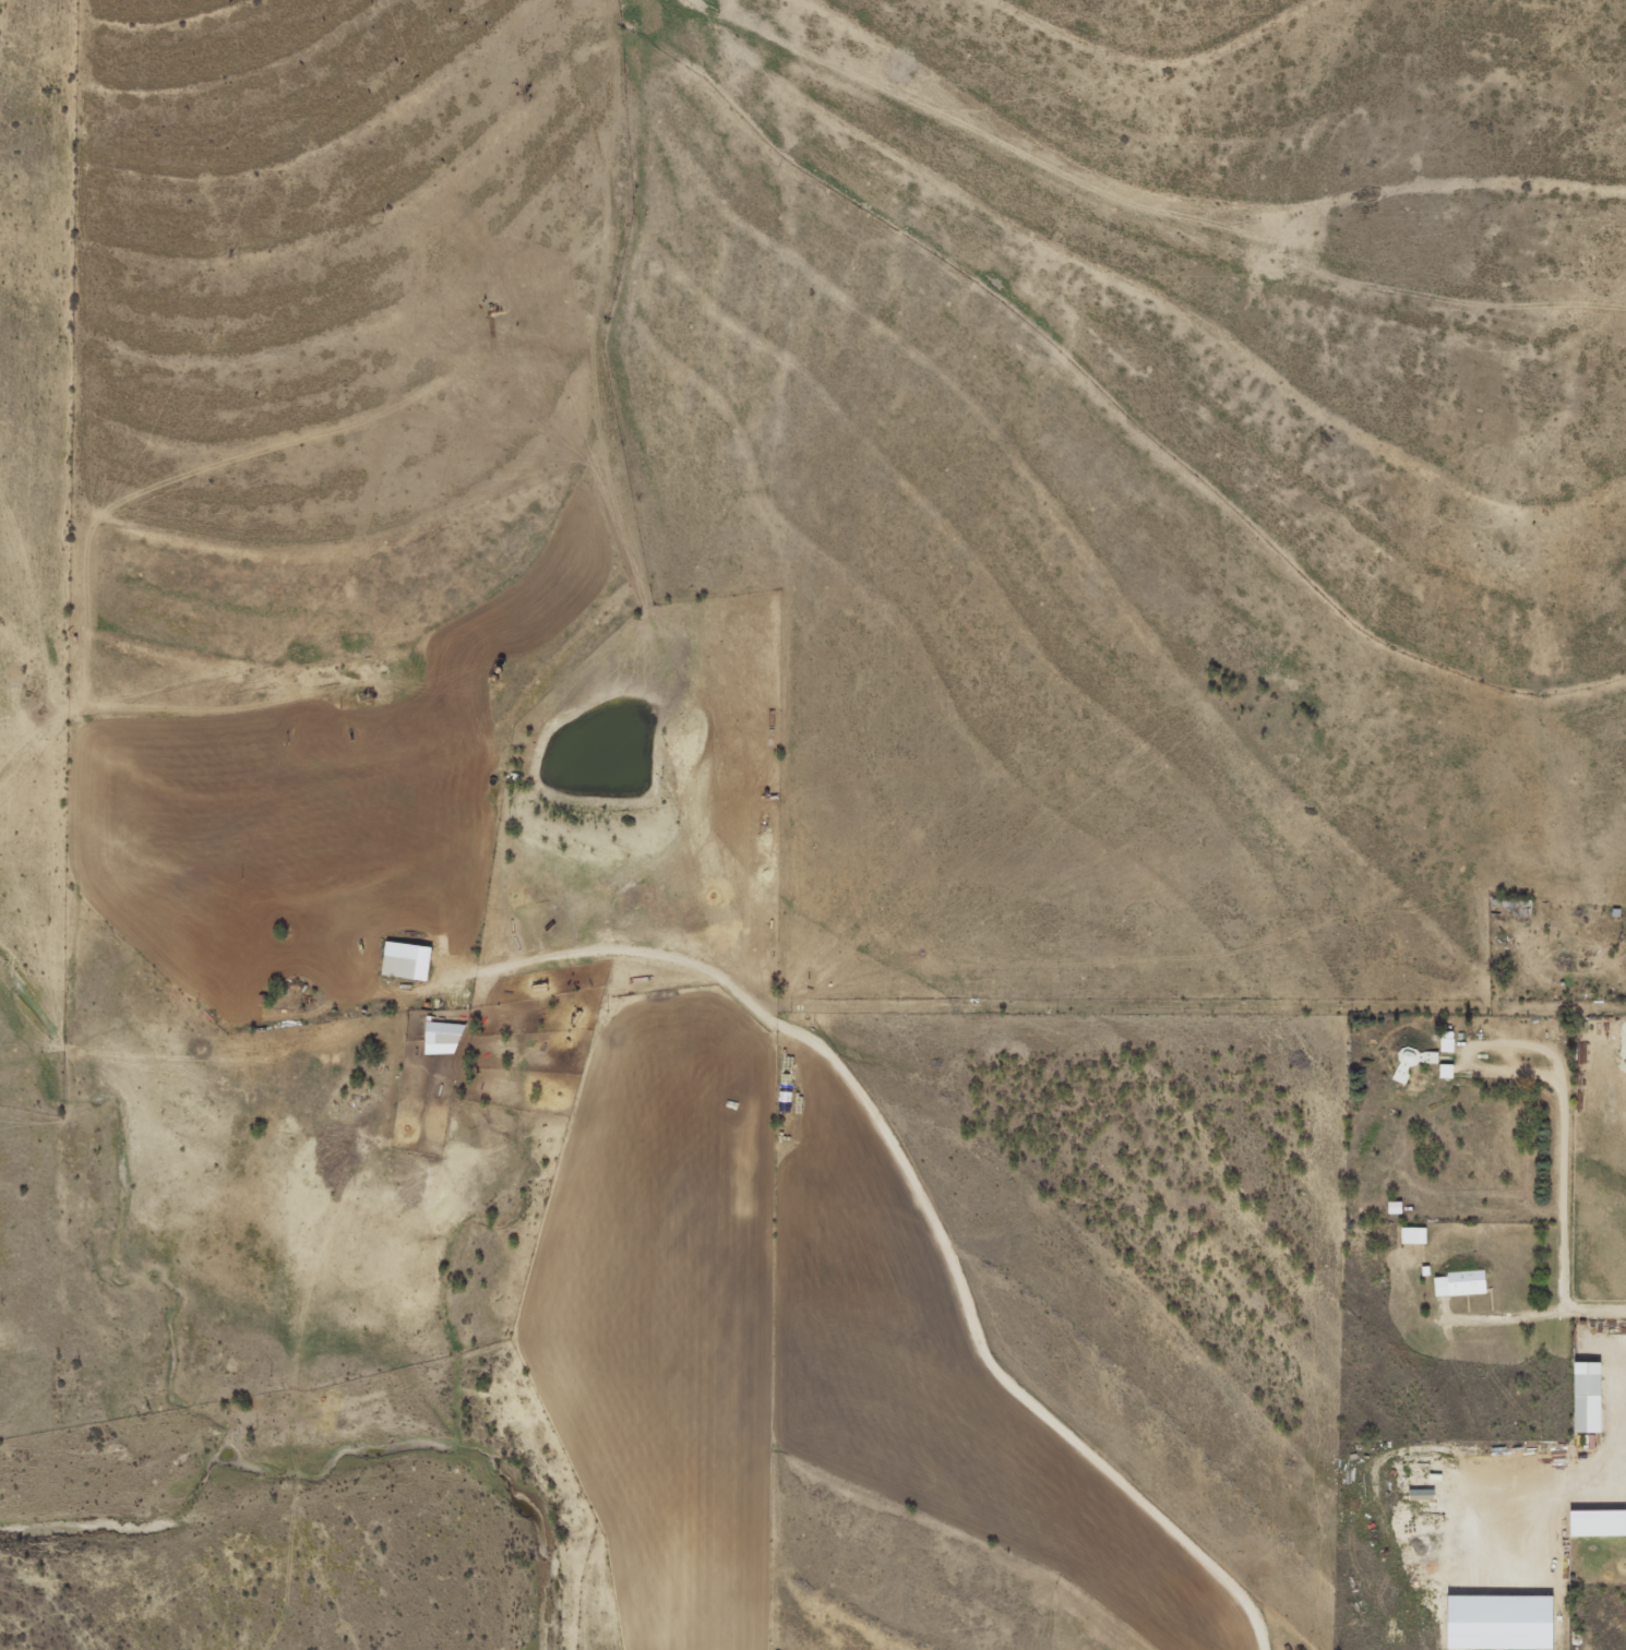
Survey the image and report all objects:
building: (409, 960)
road: (1139, 979)
building: (1449, 1041)
building: (1416, 1060)
building: (1449, 1069)
road: (924, 1197)
building: (1398, 1206)
building: (1416, 1234)
building: (1464, 1282)
building: (1590, 1397)
building: (1425, 1496)
building: (1600, 1522)
building: (1505, 1622)

